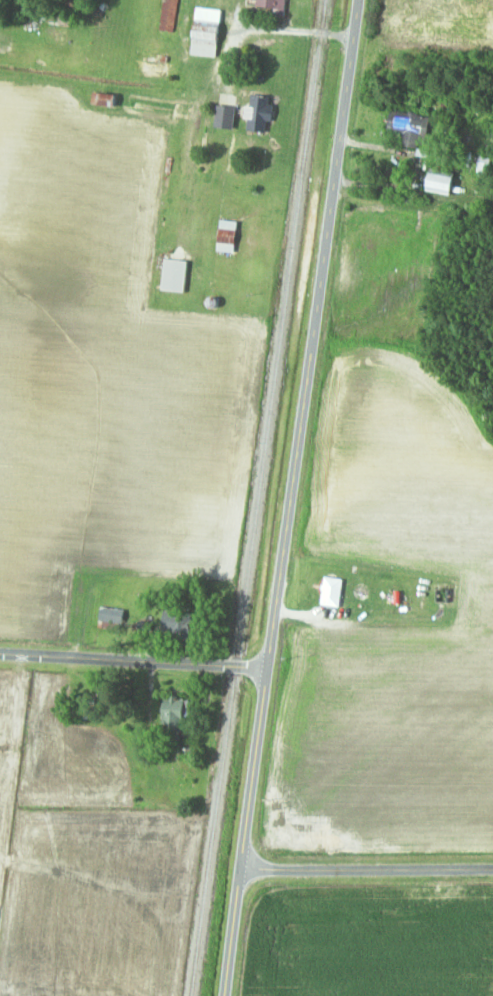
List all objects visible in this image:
building: (268, 4)
building: (169, 15)
building: (207, 39)
building: (156, 67)
building: (106, 99)
building: (259, 113)
building: (411, 128)
building: (484, 162)
building: (442, 181)
building: (228, 235)
building: (176, 275)
railway: (257, 497)
road: (288, 497)
building: (334, 591)
building: (443, 593)
building: (112, 614)
building: (175, 621)
road: (132, 660)
building: (81, 707)
building: (176, 713)
road: (366, 868)

